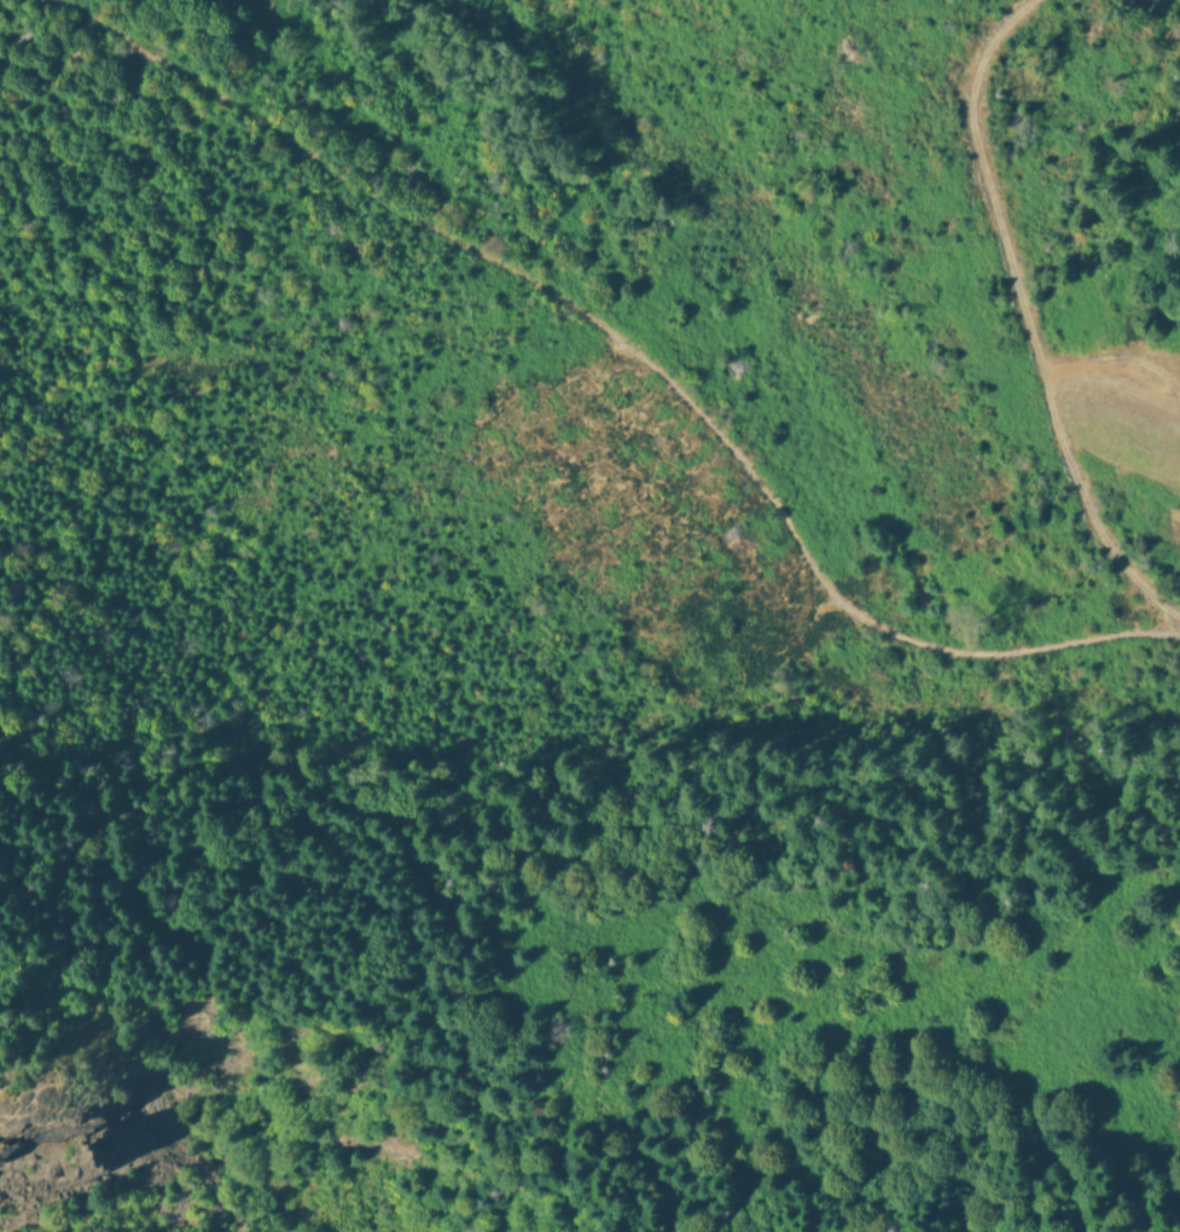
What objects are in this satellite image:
road: (1024, 318)
airport: (1117, 406)

